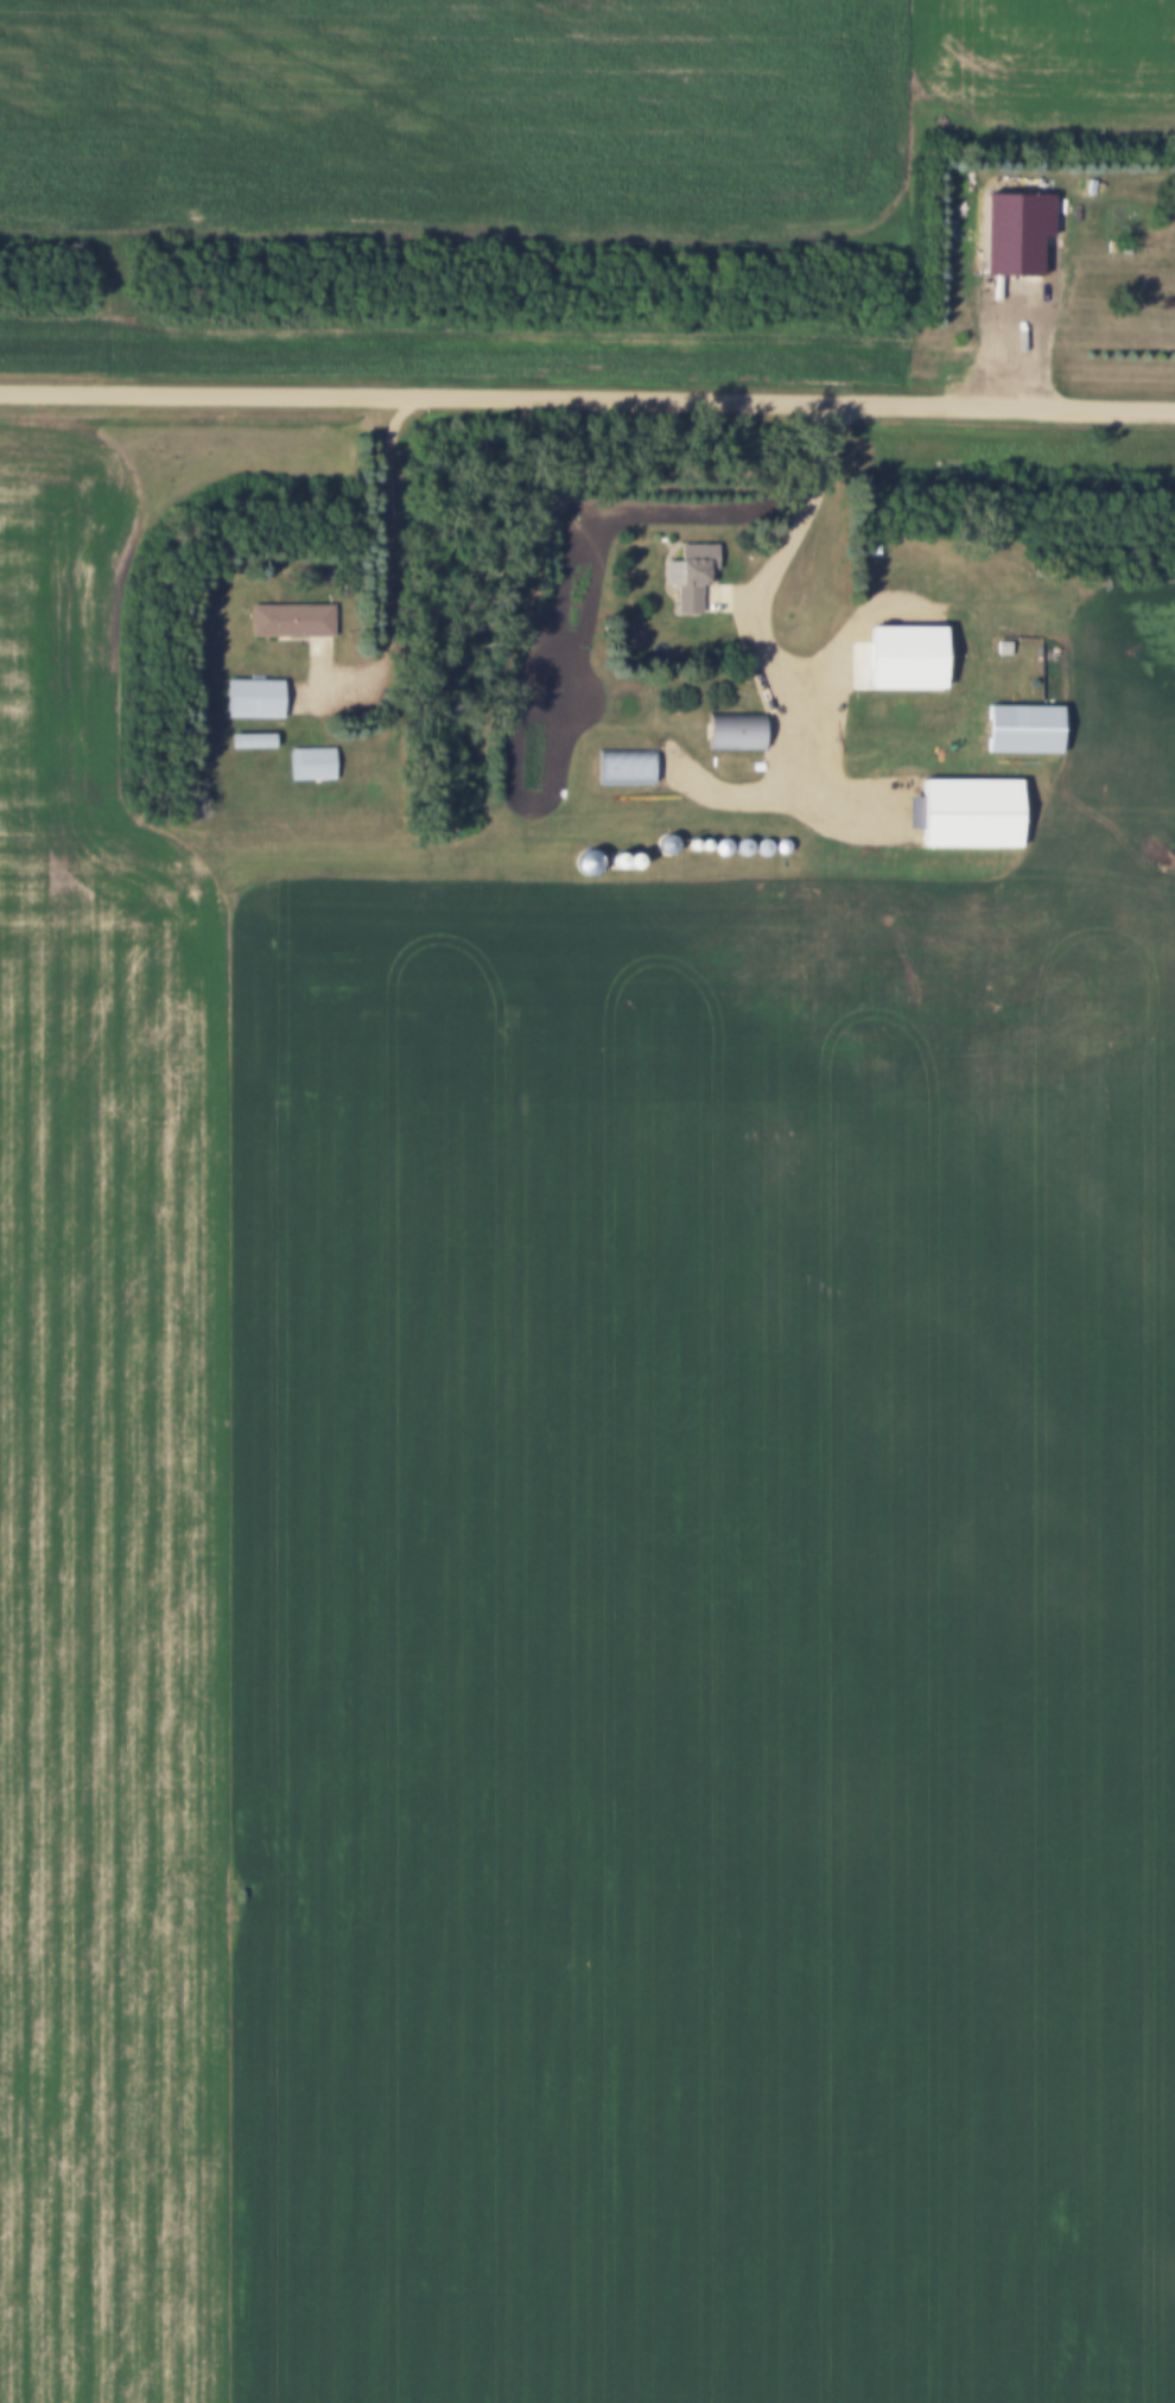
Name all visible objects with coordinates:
building: (1016, 237)
road: (587, 397)
road: (399, 560)
building: (696, 579)
building: (284, 622)
road: (760, 633)
building: (895, 661)
building: (258, 702)
building: (737, 734)
building: (254, 743)
building: (315, 767)
building: (628, 769)
building: (973, 817)

